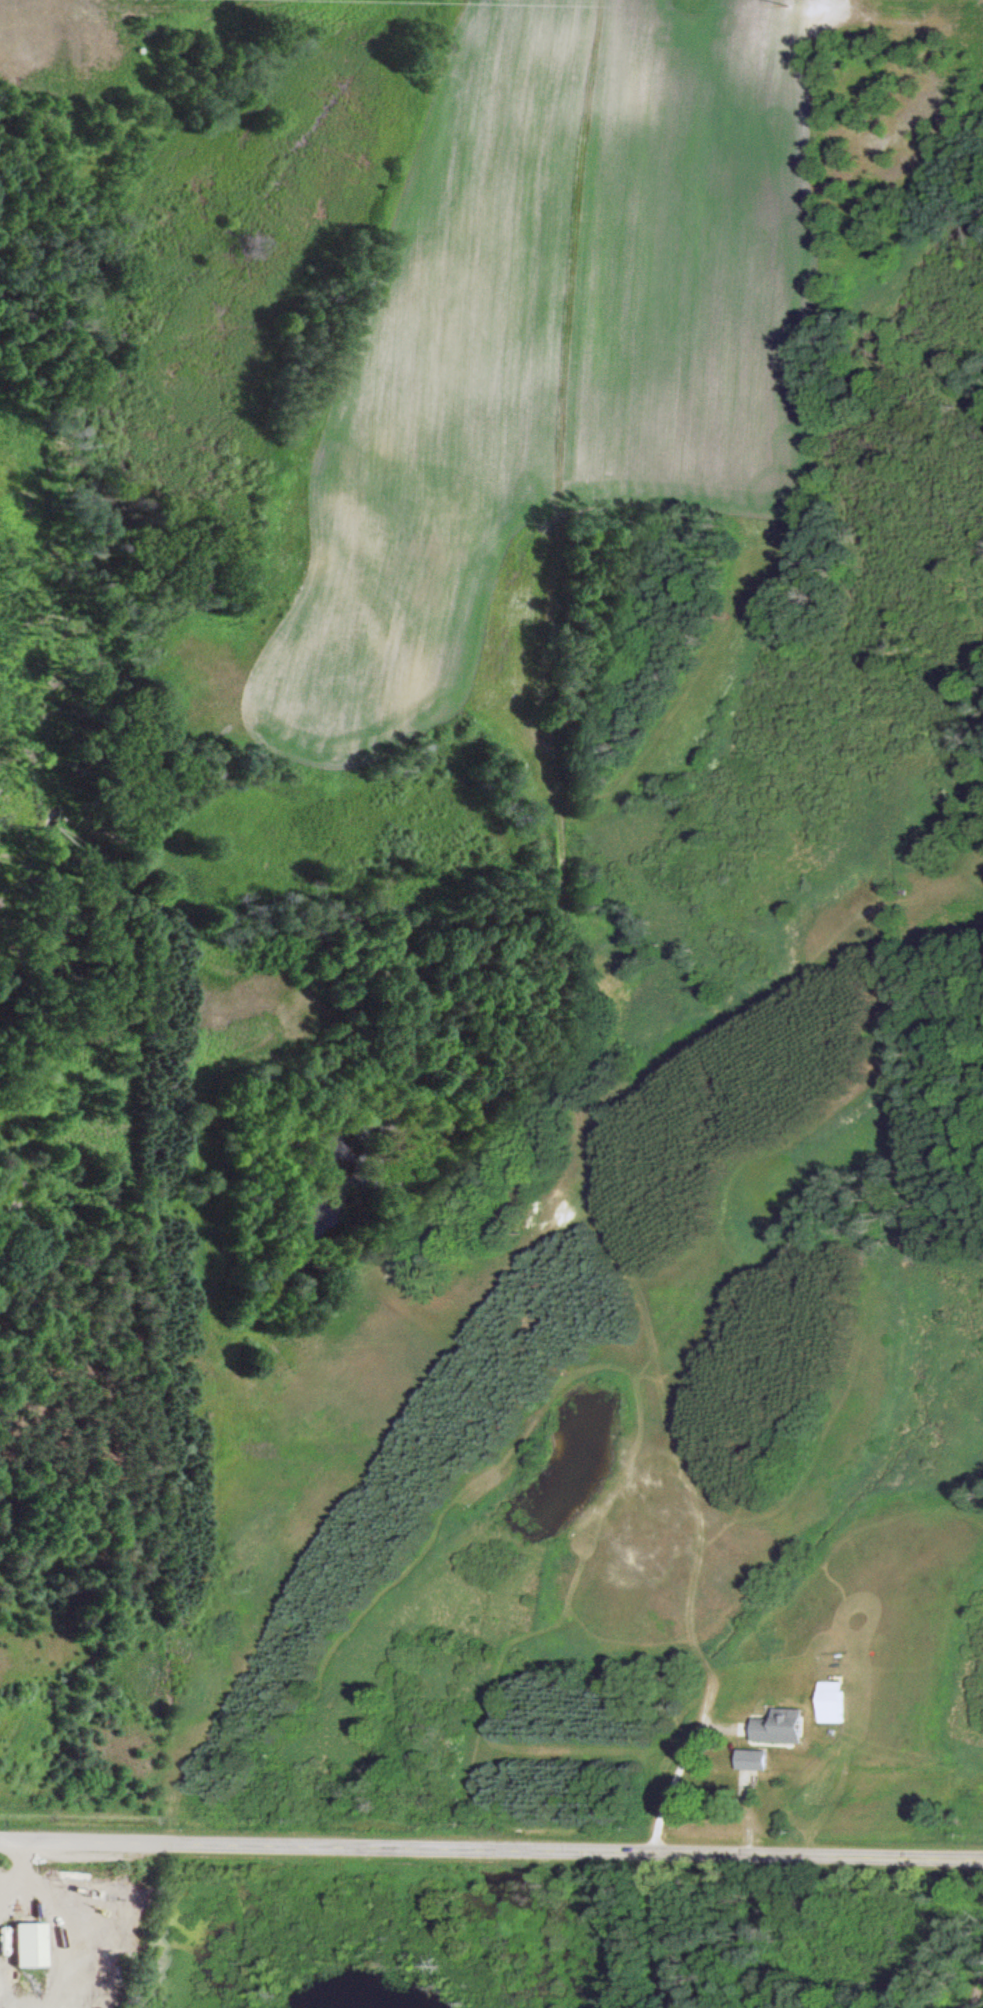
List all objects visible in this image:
building: (832, 1701)
building: (780, 1725)
building: (753, 1758)
building: (724, 1786)
road: (491, 1848)
building: (21, 1943)

